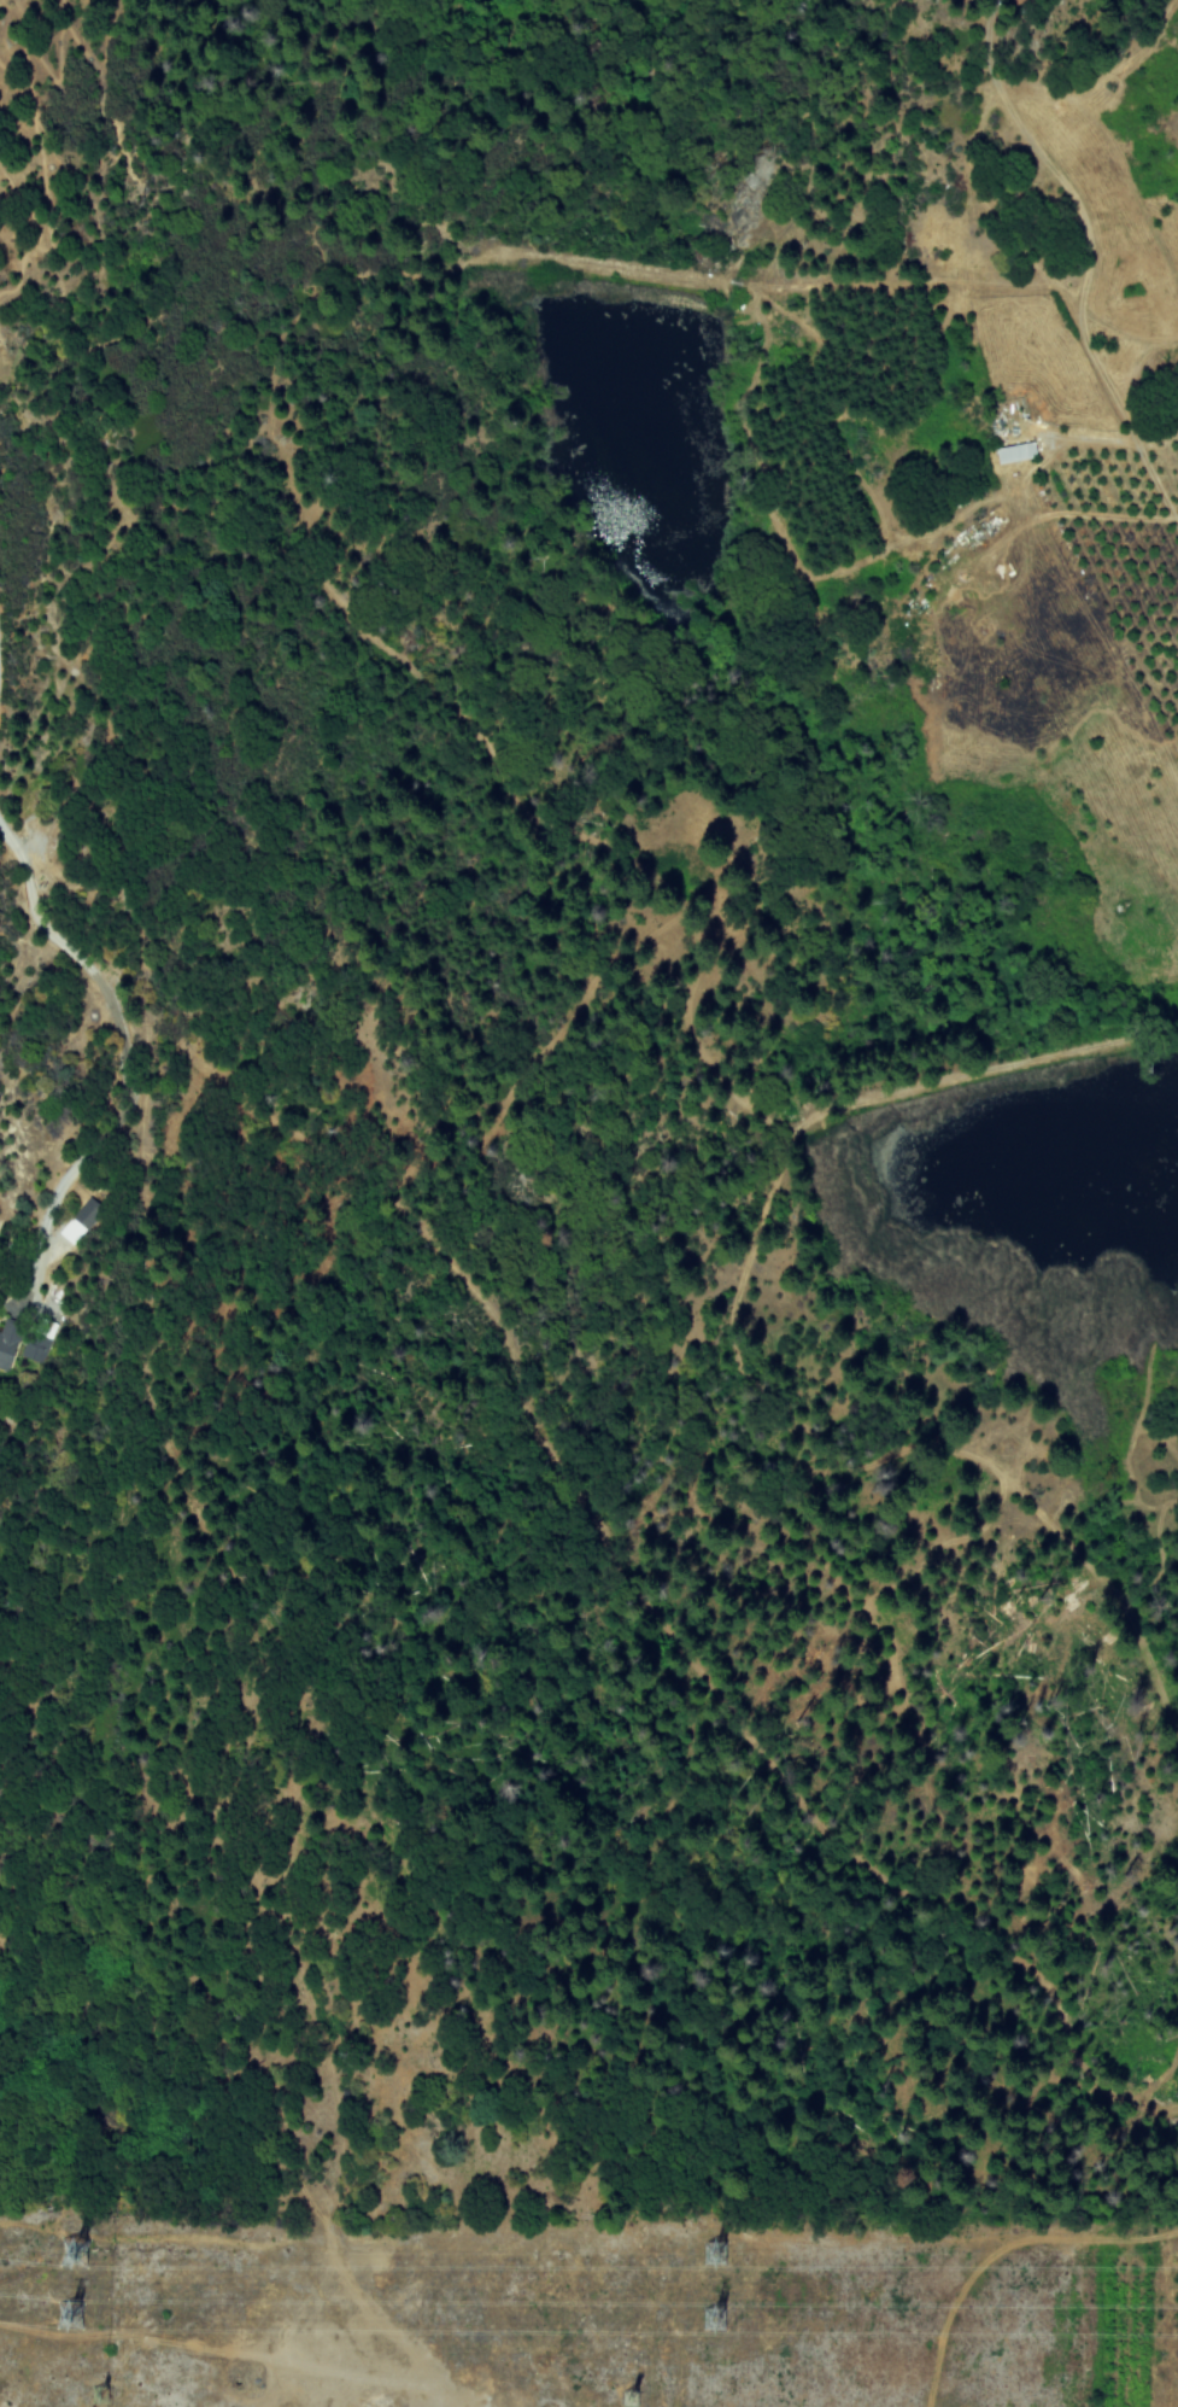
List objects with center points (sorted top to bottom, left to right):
building: (1014, 452)
crop: (1124, 578)
road: (528, 763)
road: (48, 1199)
building: (80, 1221)
building: (39, 1340)
building: (7, 1343)
road: (627, 1410)
power tower: (71, 2251)
power tower: (711, 2254)
crop: (1113, 2282)
power tower: (68, 2318)
power tower: (711, 2320)
power tower: (98, 2394)
power tower: (629, 2397)

